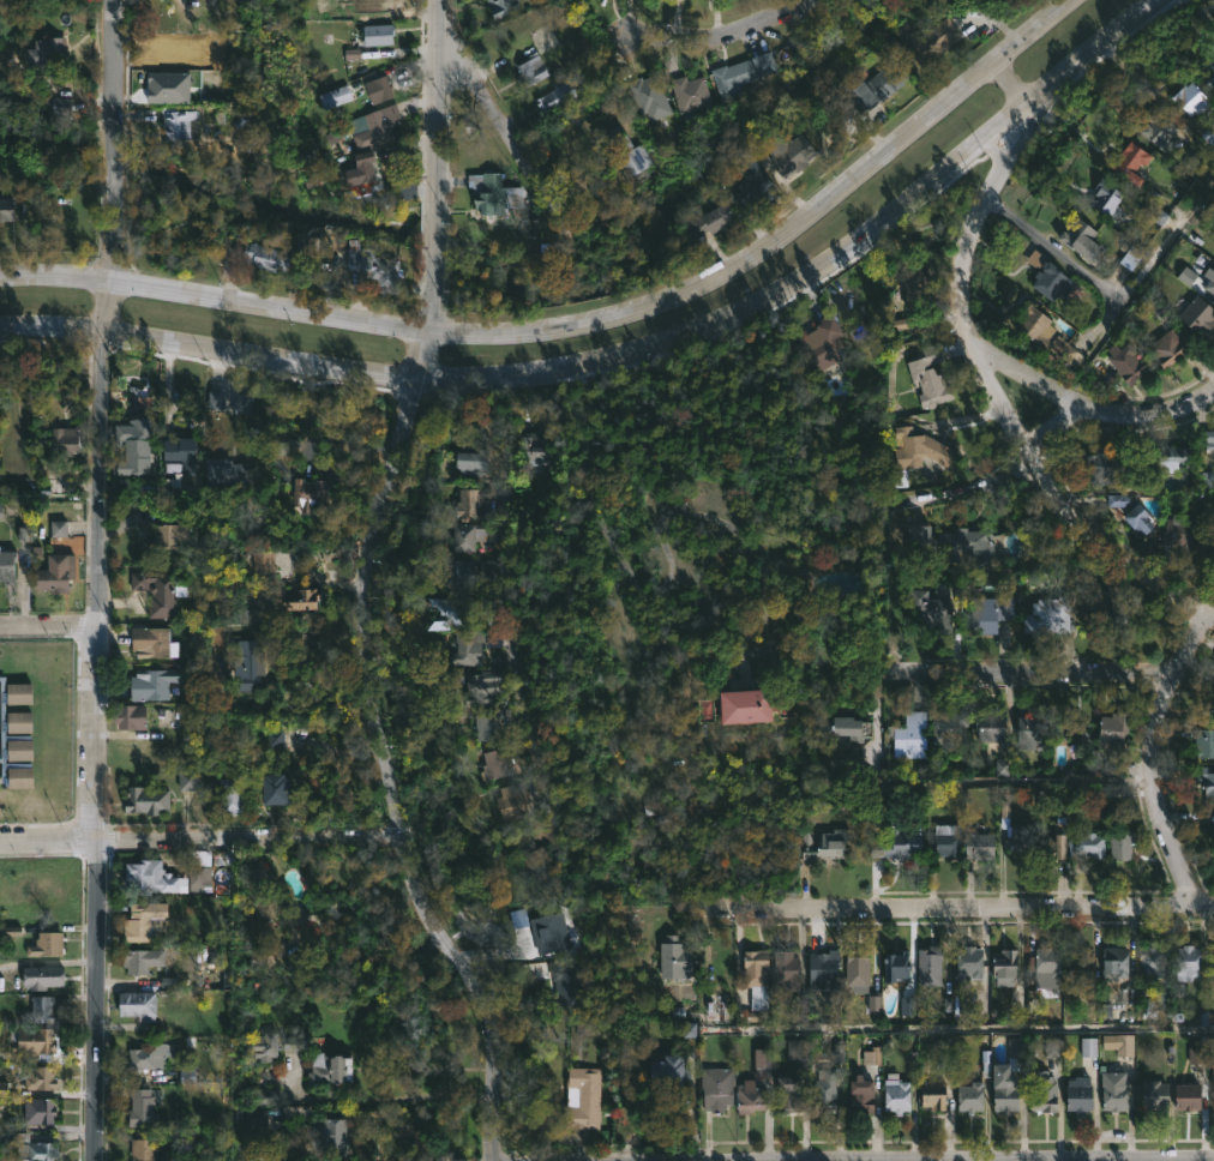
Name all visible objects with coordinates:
road: (179, 4)
building: (378, 5)
building: (499, 7)
building: (379, 34)
road: (719, 34)
building: (926, 42)
building: (49, 54)
building: (188, 61)
building: (1208, 68)
building: (530, 70)
building: (739, 74)
road: (1011, 85)
building: (380, 89)
building: (337, 95)
building: (687, 95)
building: (557, 97)
building: (867, 97)
building: (647, 98)
building: (1190, 100)
building: (60, 108)
building: (176, 124)
building: (369, 124)
building: (1155, 133)
building: (1208, 136)
road: (435, 138)
road: (107, 140)
road: (510, 140)
building: (788, 152)
building: (626, 155)
building: (1126, 164)
building: (362, 167)
building: (755, 186)
building: (493, 194)
building: (1105, 200)
building: (7, 209)
building: (717, 222)
road: (782, 235)
building: (1077, 240)
building: (266, 258)
building: (1131, 259)
road: (819, 264)
building: (369, 266)
building: (1046, 276)
building: (1209, 281)
building: (914, 285)
road: (1112, 296)
road: (214, 297)
road: (429, 305)
building: (1196, 314)
building: (912, 323)
building: (1030, 323)
building: (825, 336)
building: (1165, 348)
road: (206, 350)
road: (419, 359)
building: (1120, 365)
road: (1022, 374)
building: (927, 377)
building: (217, 402)
road: (997, 403)
building: (241, 405)
road: (1146, 409)
building: (67, 439)
building: (1208, 441)
building: (134, 445)
building: (534, 451)
building: (182, 453)
building: (910, 453)
building: (1166, 458)
building: (476, 463)
building: (227, 467)
building: (1105, 467)
road: (998, 470)
building: (131, 486)
building: (312, 493)
building: (469, 500)
building: (1136, 518)
building: (1206, 525)
building: (1177, 530)
building: (167, 535)
building: (467, 535)
building: (963, 542)
building: (7, 564)
road: (893, 564)
building: (264, 565)
building: (56, 573)
building: (455, 573)
building: (839, 585)
building: (157, 591)
building: (301, 598)
building: (928, 603)
building: (996, 607)
building: (453, 608)
road: (503, 609)
building: (1100, 609)
building: (486, 613)
building: (1046, 615)
road: (47, 626)
building: (150, 642)
building: (465, 648)
building: (247, 667)
road: (1032, 672)
building: (152, 682)
building: (479, 686)
building: (20, 692)
building: (751, 705)
building: (130, 716)
building: (20, 720)
road: (94, 720)
building: (493, 723)
building: (950, 723)
building: (987, 726)
building: (848, 727)
building: (1027, 732)
building: (1110, 732)
building: (908, 734)
building: (1202, 740)
building: (277, 742)
building: (20, 750)
road: (1154, 754)
building: (499, 762)
road: (390, 780)
building: (280, 788)
building: (1207, 788)
building: (233, 795)
building: (149, 800)
building: (511, 800)
building: (1209, 819)
building: (1014, 830)
road: (202, 841)
building: (943, 841)
building: (1054, 842)
building: (897, 843)
building: (1119, 843)
building: (828, 844)
building: (1086, 844)
building: (978, 846)
building: (530, 852)
building: (198, 868)
building: (144, 874)
building: (41, 888)
building: (257, 891)
road: (955, 909)
building: (140, 921)
building: (549, 933)
building: (47, 944)
building: (1212, 954)
building: (675, 958)
building: (1112, 958)
building: (140, 960)
building: (1148, 961)
building: (967, 962)
building: (1002, 963)
building: (1185, 963)
building: (894, 966)
building: (787, 967)
building: (927, 967)
building: (1045, 967)
building: (825, 969)
building: (854, 969)
building: (1078, 971)
building: (42, 976)
building: (758, 977)
building: (567, 987)
road: (236, 1000)
building: (1155, 1003)
building: (138, 1005)
building: (42, 1007)
building: (799, 1007)
road: (973, 1029)
building: (1117, 1042)
building: (31, 1045)
building: (264, 1046)
building: (1015, 1054)
building: (148, 1057)
building: (763, 1063)
building: (333, 1070)
building: (672, 1071)
building: (38, 1078)
building: (830, 1082)
building: (1212, 1087)
building: (719, 1089)
building: (1112, 1091)
building: (899, 1093)
building: (1041, 1093)
building: (1002, 1094)
building: (791, 1095)
building: (864, 1095)
building: (931, 1095)
building: (1076, 1095)
building: (1153, 1095)
building: (968, 1096)
building: (752, 1097)
building: (1185, 1097)
road: (384, 1099)
building: (583, 1099)
building: (143, 1108)
building: (40, 1111)
road: (377, 1113)
building: (330, 1136)
building: (36, 1148)
building: (146, 1150)
road: (1080, 1157)

